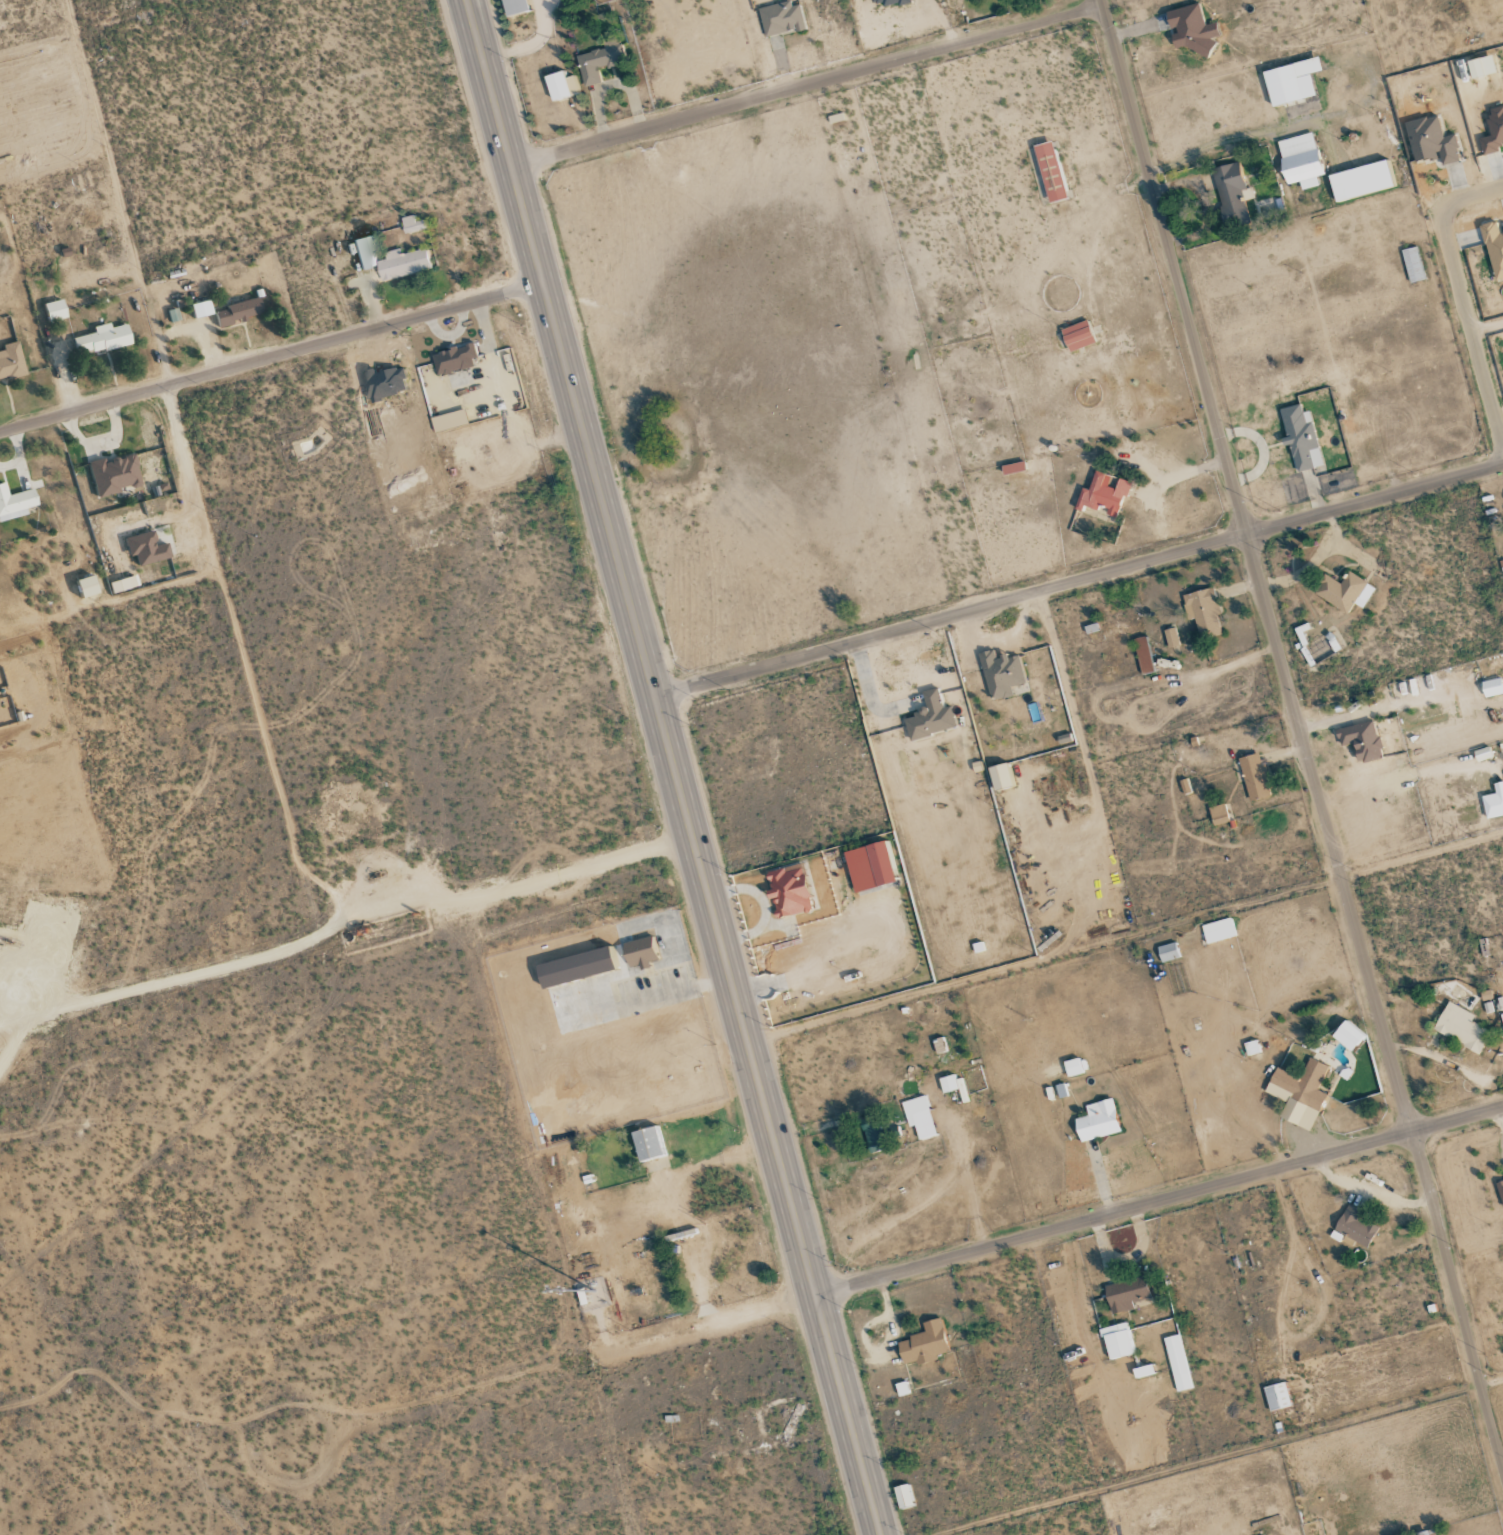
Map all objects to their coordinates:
building: (889, 2)
building: (514, 7)
building: (781, 19)
building: (1189, 29)
building: (599, 61)
building: (1481, 67)
building: (1291, 82)
road: (809, 86)
building: (560, 87)
building: (1493, 131)
building: (1430, 141)
building: (1300, 160)
building: (1047, 173)
building: (1360, 181)
building: (1231, 194)
building: (1266, 205)
building: (416, 224)
building: (1494, 247)
building: (368, 252)
building: (408, 263)
road: (1463, 298)
building: (202, 309)
building: (57, 310)
building: (239, 312)
building: (1077, 336)
building: (104, 339)
building: (459, 359)
road: (273, 360)
building: (11, 361)
building: (388, 383)
building: (1300, 437)
road: (181, 463)
building: (1013, 467)
building: (116, 475)
building: (1103, 495)
building: (16, 503)
building: (148, 549)
road: (1080, 579)
building: (120, 585)
building: (89, 587)
building: (1344, 591)
building: (1203, 611)
building: (1171, 637)
building: (1143, 654)
building: (1001, 673)
building: (1492, 687)
building: (929, 716)
road: (1302, 734)
building: (1361, 740)
road: (676, 767)
road: (1088, 768)
building: (999, 776)
building: (1254, 776)
building: (1494, 801)
building: (1218, 814)
building: (880, 862)
building: (789, 890)
building: (639, 952)
building: (1168, 952)
building: (575, 966)
building: (1461, 1027)
building: (1347, 1036)
building: (1073, 1067)
building: (949, 1083)
building: (1299, 1093)
building: (919, 1117)
building: (1097, 1121)
building: (873, 1136)
building: (648, 1143)
building: (1500, 1189)
road: (1160, 1200)
building: (1354, 1226)
building: (1126, 1293)
building: (1116, 1341)
building: (923, 1344)
building: (1177, 1362)
building: (1142, 1371)
building: (1276, 1396)
building: (1425, 1532)

